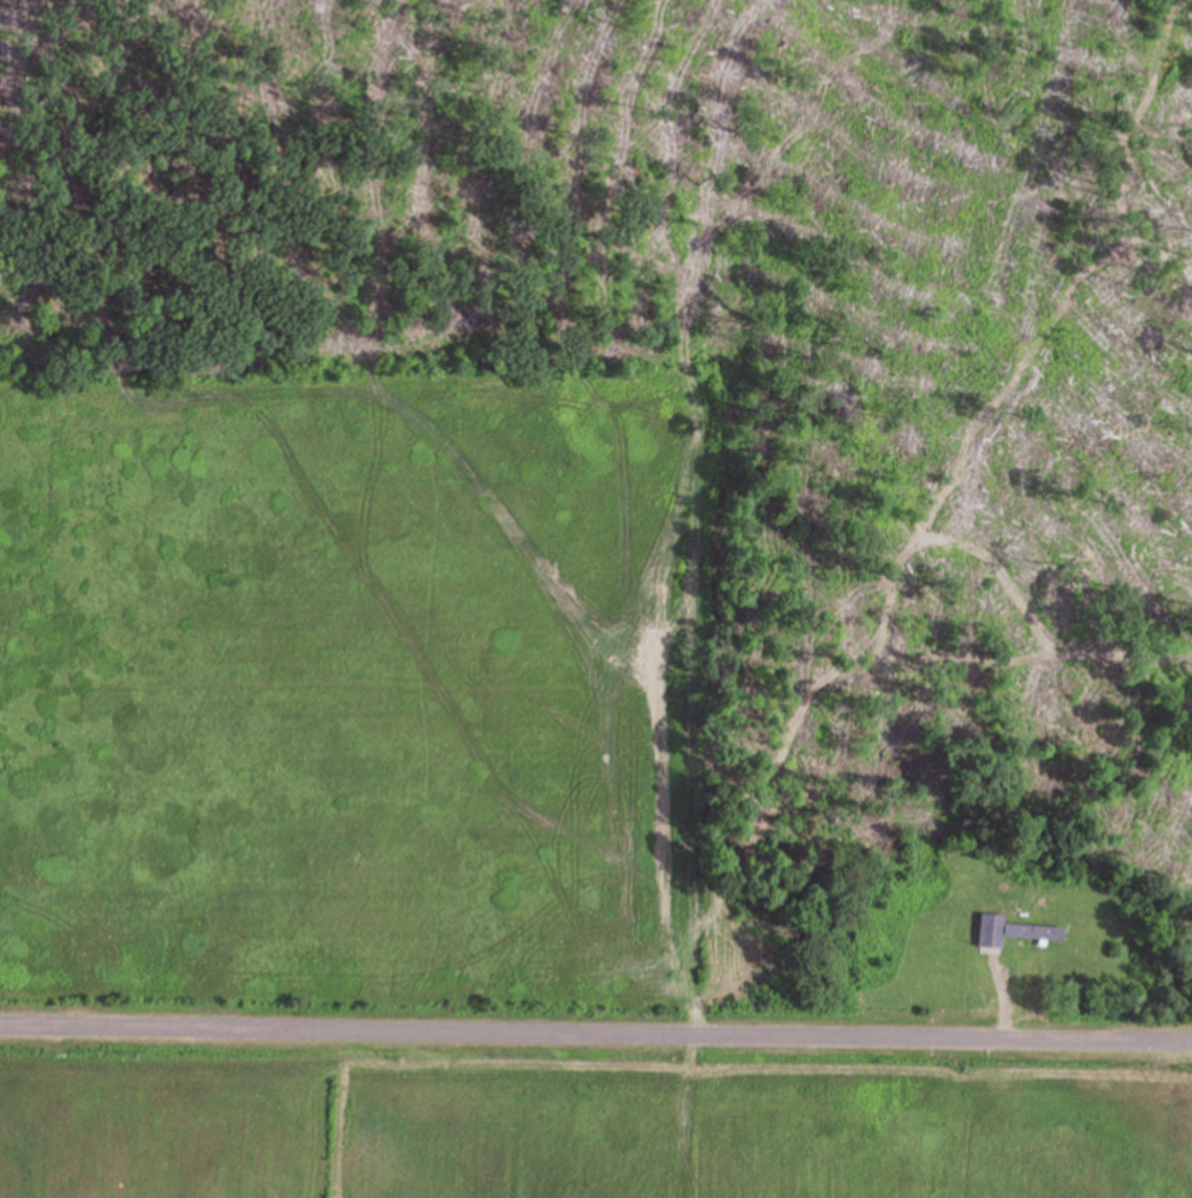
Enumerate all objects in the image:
building: (1018, 930)
road: (595, 1026)

